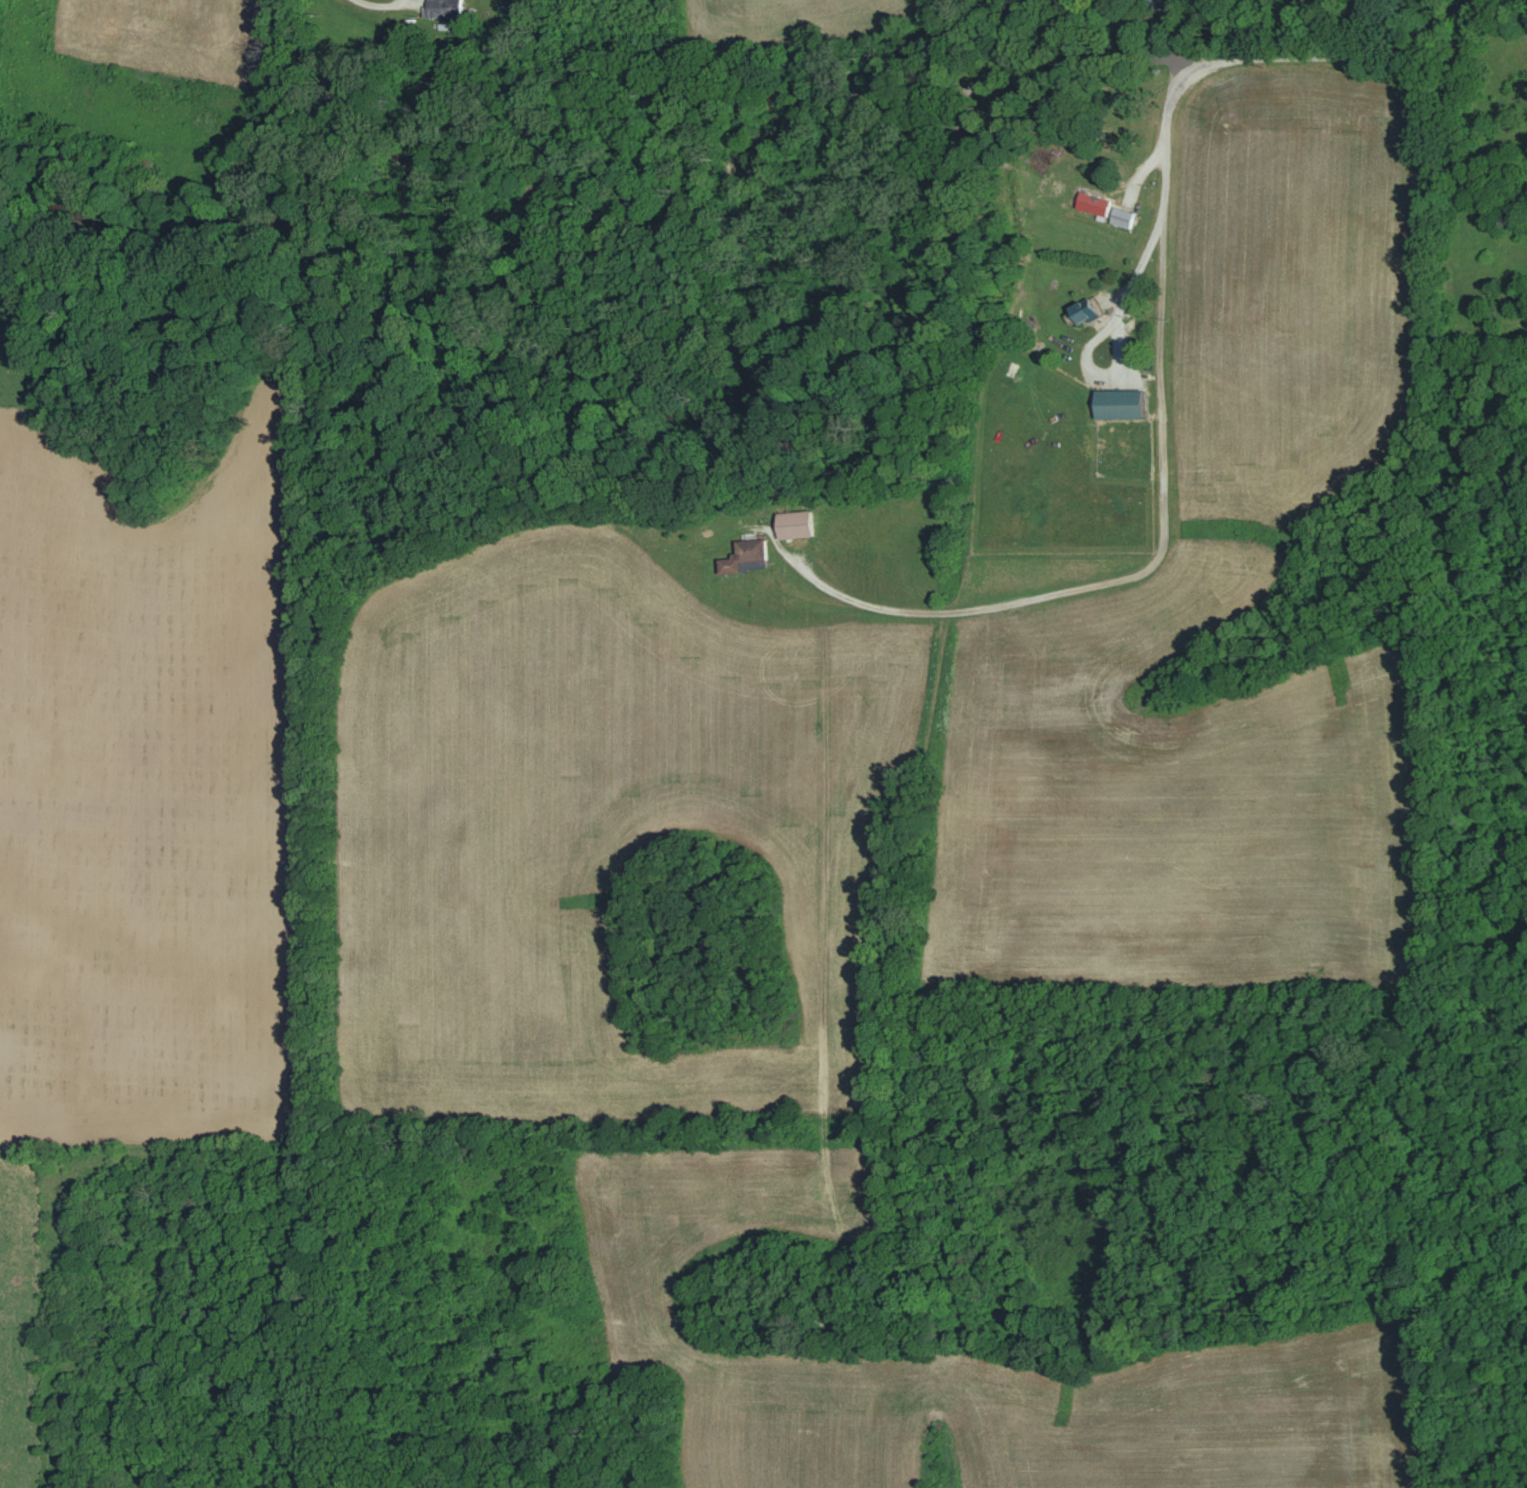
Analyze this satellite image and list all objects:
building: (445, 8)
road: (1257, 55)
building: (1089, 203)
building: (1119, 217)
building: (1079, 311)
building: (1114, 403)
building: (790, 524)
building: (740, 556)

